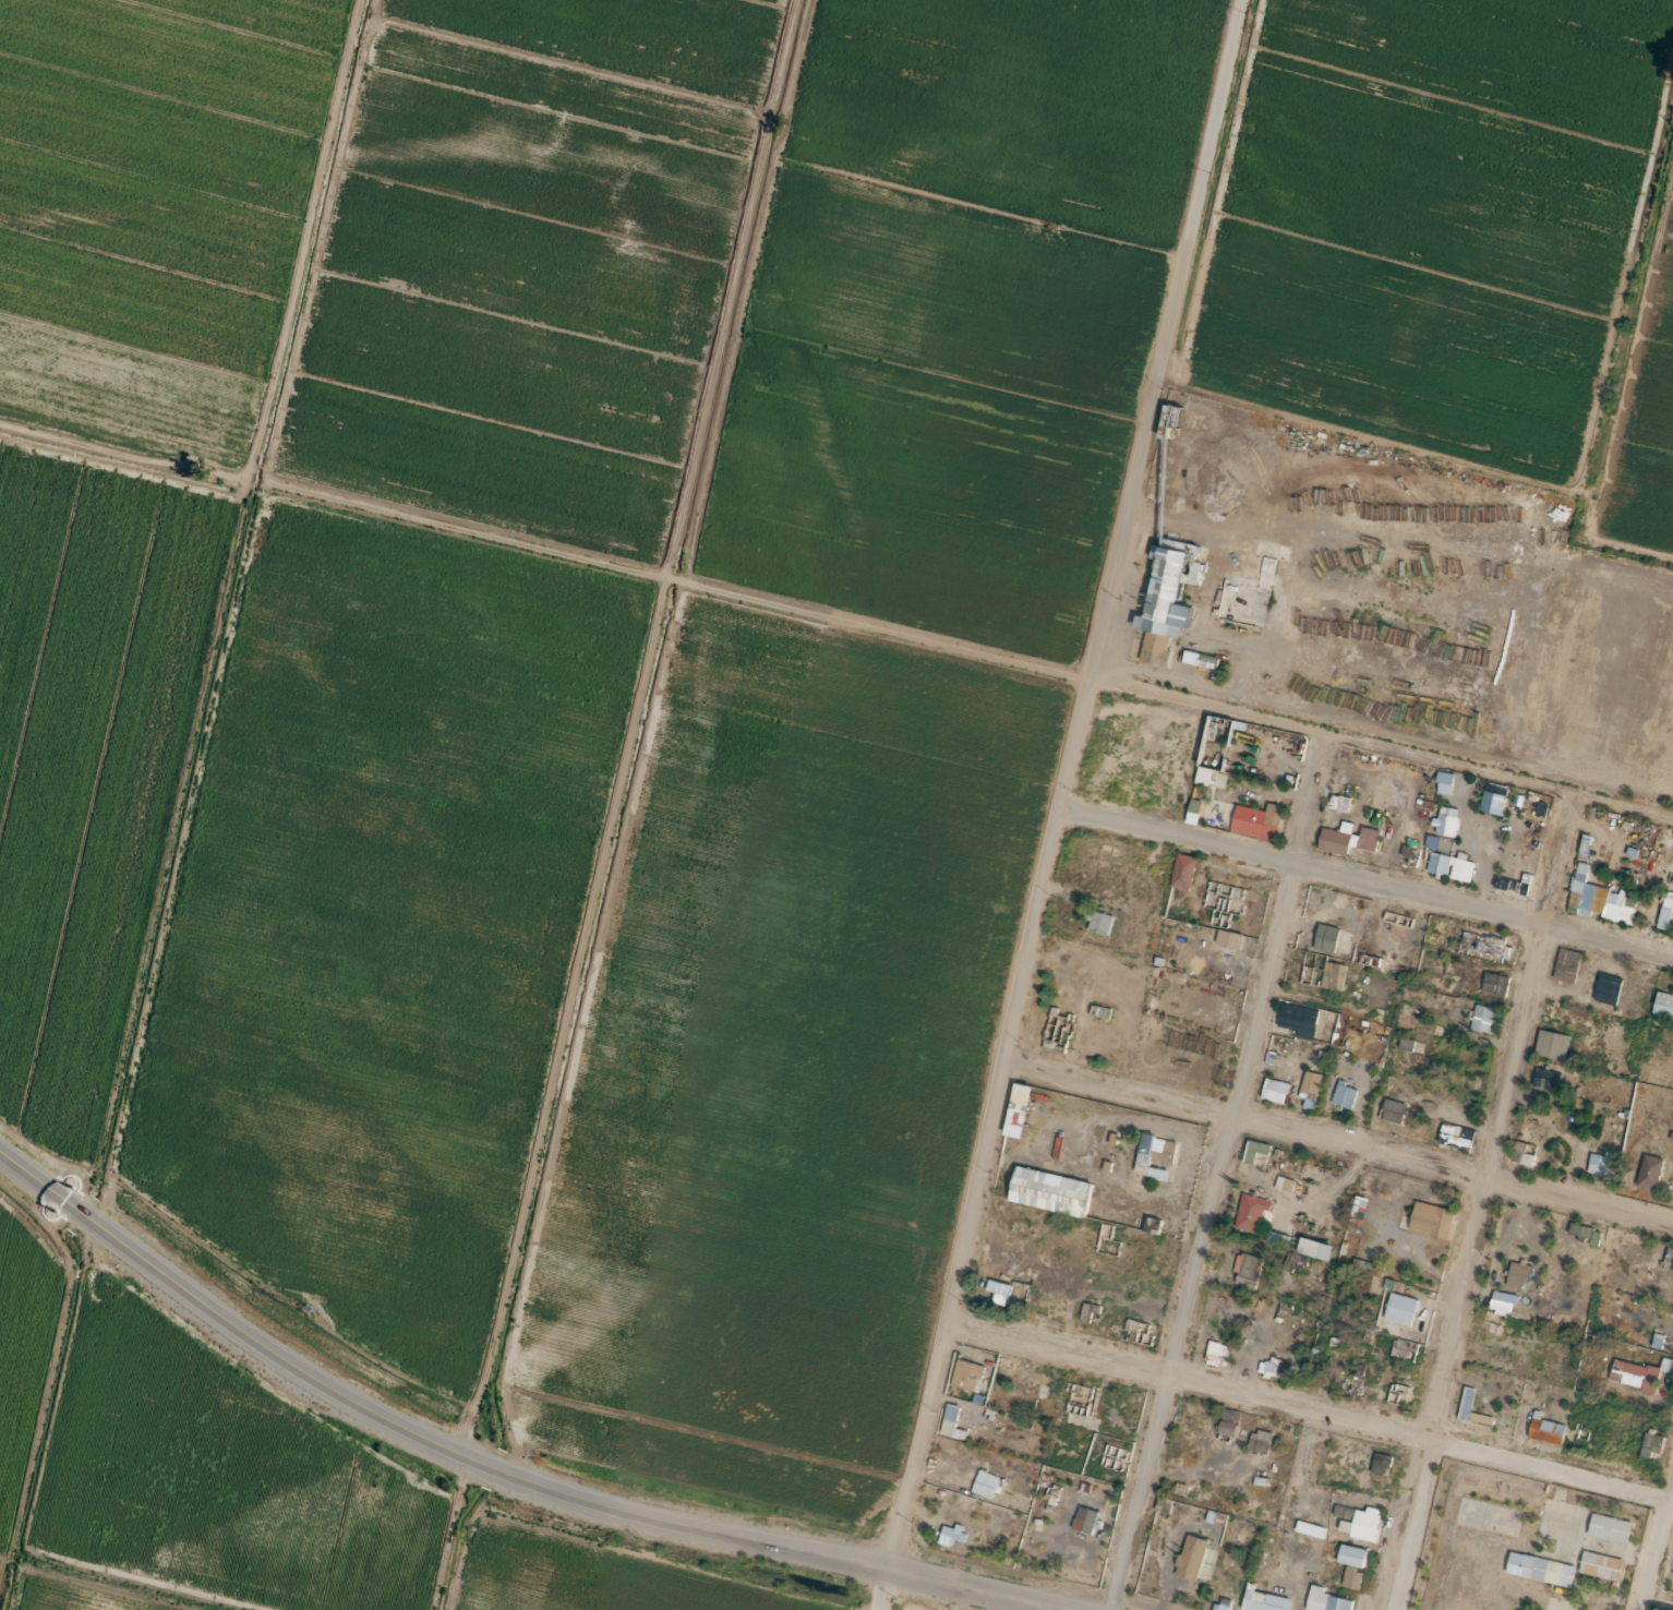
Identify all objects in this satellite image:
road: (1205, 173)
road: (539, 546)
road: (1375, 745)
road: (1360, 890)
road: (1016, 960)
road: (1334, 1152)
road: (1213, 1172)
road: (1471, 1200)
road: (1304, 1417)
road: (1668, 1488)
road: (1652, 1525)

